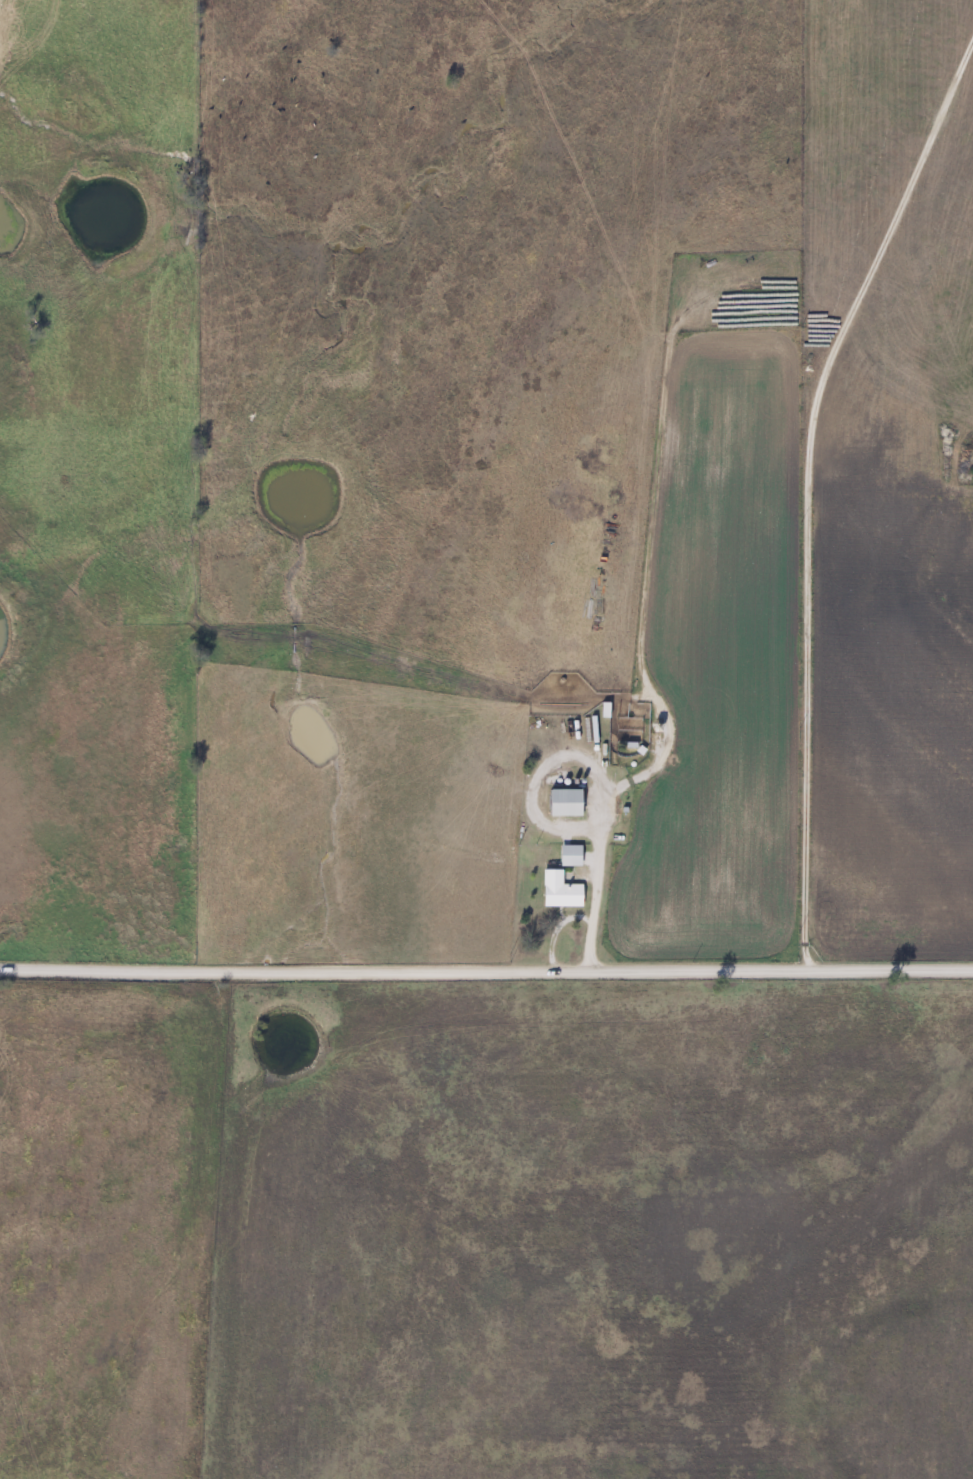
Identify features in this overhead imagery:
road: (806, 485)
building: (563, 801)
building: (558, 890)
road: (486, 964)

